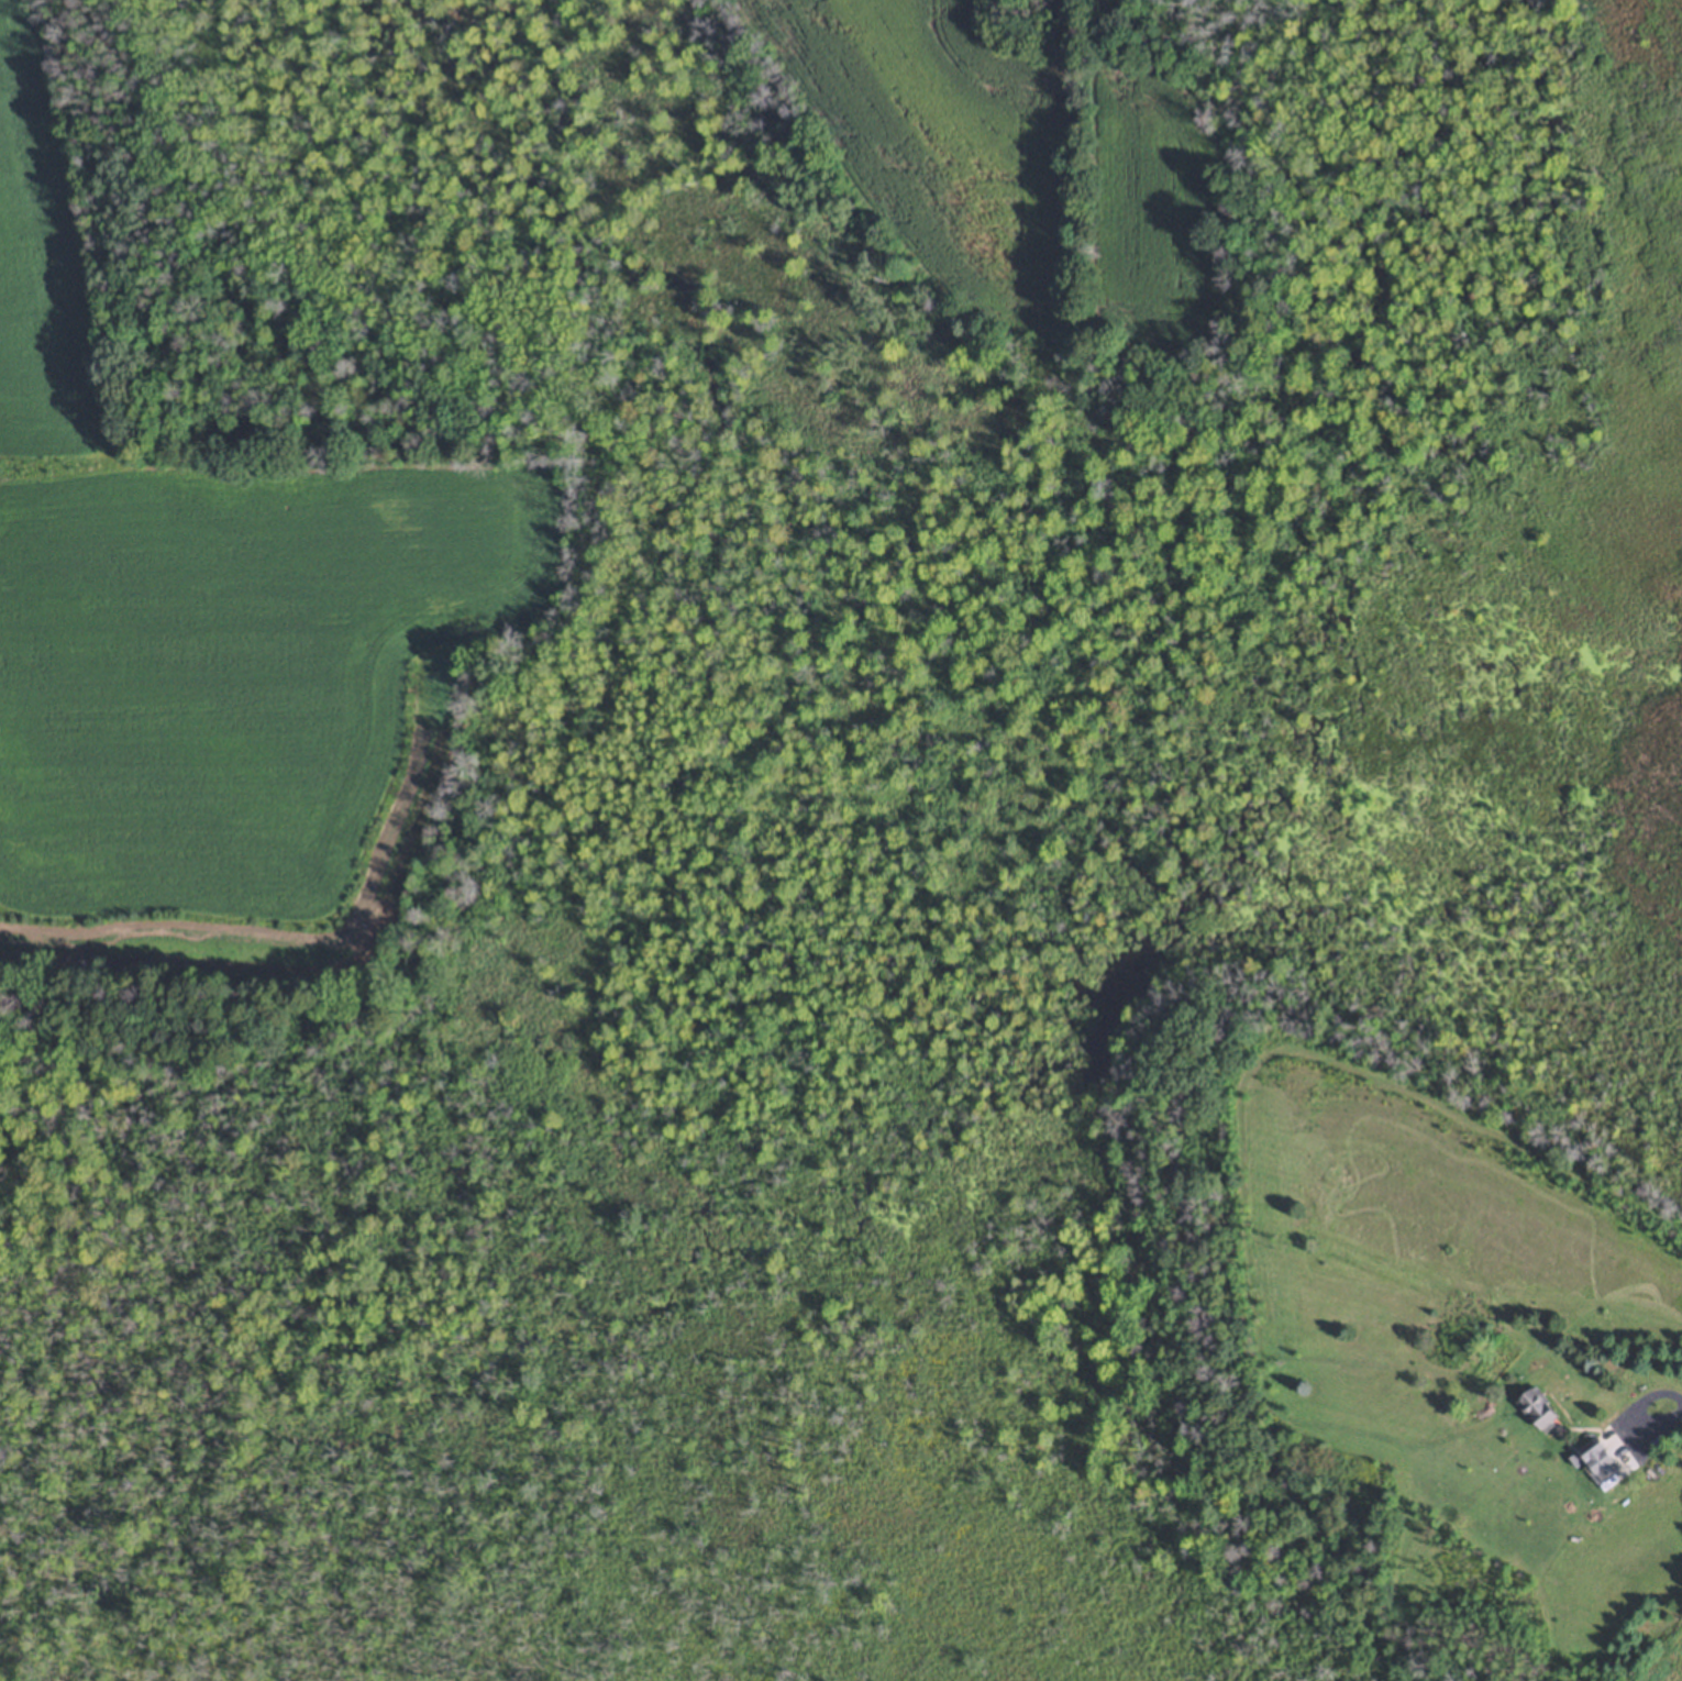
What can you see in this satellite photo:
building: (1534, 1412)
building: (1595, 1461)

